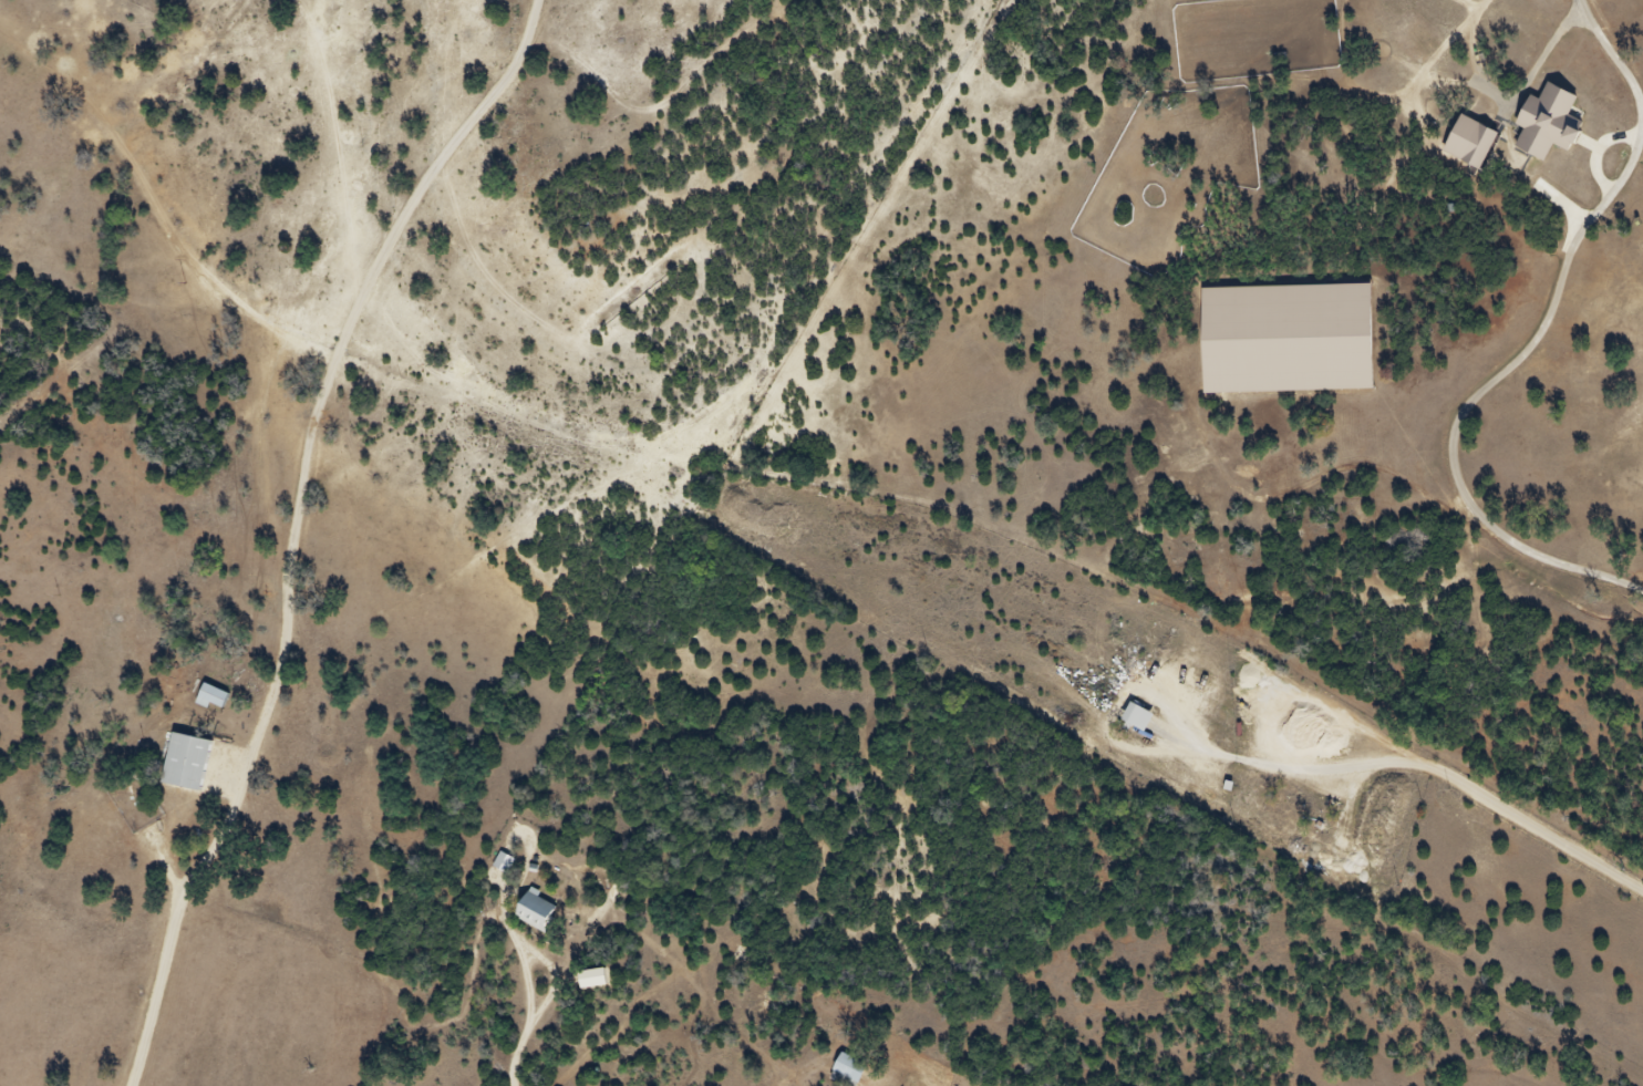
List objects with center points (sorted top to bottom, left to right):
building: (1525, 130)
building: (1294, 332)
building: (204, 700)
building: (187, 765)
road: (1467, 788)
building: (527, 914)
road: (541, 959)
road: (517, 1055)
building: (839, 1073)

